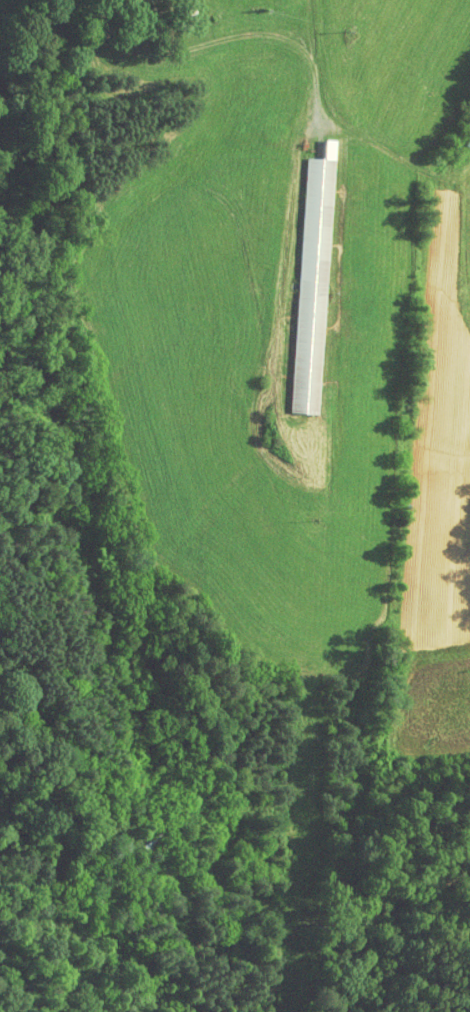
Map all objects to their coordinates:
road: (311, 68)
building: (300, 275)

